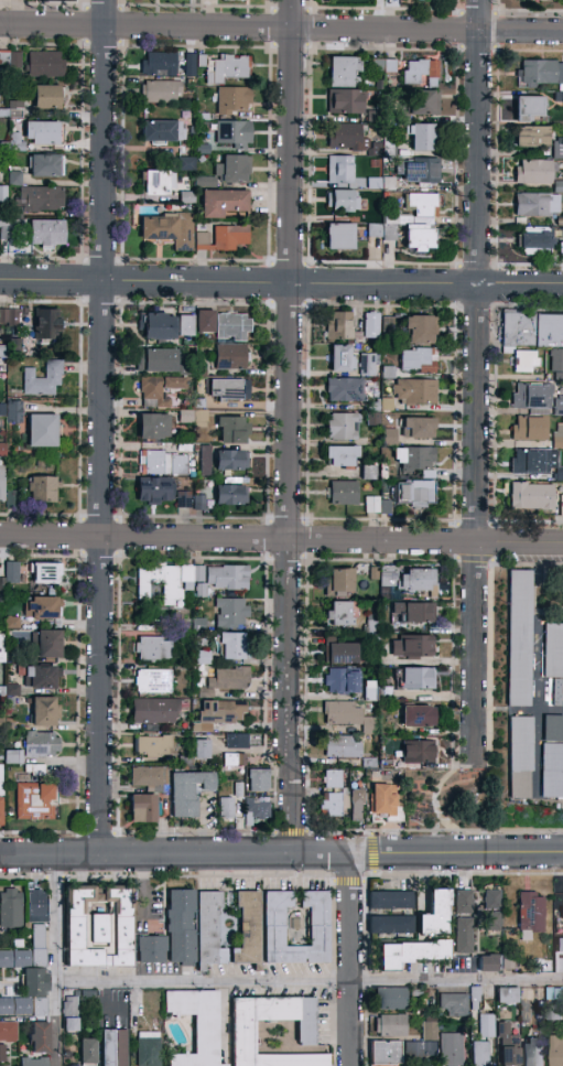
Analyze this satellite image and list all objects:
road: (281, 28)
building: (13, 61)
building: (188, 63)
building: (45, 64)
building: (161, 64)
building: (383, 66)
building: (228, 68)
building: (345, 72)
building: (420, 72)
building: (540, 73)
building: (159, 91)
building: (47, 97)
building: (234, 100)
building: (346, 101)
building: (425, 103)
building: (506, 108)
building: (529, 109)
building: (162, 131)
building: (42, 132)
building: (234, 133)
building: (532, 137)
building: (348, 138)
building: (421, 138)
building: (557, 148)
building: (186, 163)
building: (46, 165)
building: (232, 169)
building: (340, 170)
building: (418, 170)
building: (534, 172)
building: (159, 183)
building: (41, 200)
building: (343, 201)
building: (224, 203)
building: (423, 204)
building: (538, 204)
building: (169, 229)
building: (372, 229)
building: (46, 233)
building: (340, 237)
building: (420, 237)
building: (225, 239)
building: (537, 243)
road: (281, 282)
building: (9, 317)
building: (206, 322)
building: (386, 323)
building: (47, 324)
building: (160, 325)
building: (185, 325)
building: (338, 325)
building: (371, 325)
building: (232, 327)
building: (419, 330)
building: (532, 330)
building: (229, 357)
building: (343, 358)
building: (158, 360)
building: (419, 360)
building: (557, 360)
building: (368, 362)
building: (526, 362)
road: (476, 378)
building: (43, 379)
building: (158, 388)
building: (228, 390)
building: (345, 390)
building: (411, 392)
building: (531, 397)
building: (557, 406)
building: (14, 411)
road: (100, 427)
building: (154, 427)
building: (343, 427)
road: (286, 428)
building: (419, 428)
building: (529, 428)
building: (44, 430)
building: (231, 430)
building: (557, 433)
building: (389, 437)
building: (1, 449)
building: (342, 456)
building: (414, 459)
building: (206, 460)
building: (230, 461)
building: (534, 462)
building: (163, 463)
building: (367, 471)
building: (2, 482)
building: (42, 489)
building: (154, 492)
building: (344, 493)
building: (414, 494)
building: (231, 495)
building: (531, 497)
building: (197, 499)
building: (184, 502)
building: (378, 505)
road: (281, 539)
road: (475, 559)
building: (15, 572)
building: (46, 573)
building: (185, 575)
building: (227, 578)
building: (407, 579)
building: (198, 580)
building: (160, 582)
building: (340, 582)
building: (561, 591)
building: (42, 607)
building: (230, 613)
building: (414, 613)
building: (342, 614)
building: (10, 621)
road: (489, 628)
building: (519, 638)
road: (305, 640)
building: (48, 644)
building: (230, 646)
building: (412, 646)
building: (2, 648)
building: (152, 649)
building: (342, 653)
building: (553, 661)
building: (42, 677)
building: (230, 678)
building: (414, 678)
building: (152, 681)
building: (343, 681)
building: (8, 689)
building: (154, 711)
building: (45, 712)
building: (223, 712)
building: (343, 713)
building: (418, 717)
building: (237, 742)
building: (42, 745)
building: (153, 746)
building: (343, 746)
building: (202, 750)
building: (418, 752)
building: (552, 756)
building: (12, 757)
building: (520, 757)
building: (235, 760)
building: (1, 774)
building: (148, 777)
building: (259, 779)
building: (332, 779)
road: (464, 782)
building: (237, 788)
building: (188, 792)
building: (343, 797)
park: (446, 799)
building: (382, 800)
building: (36, 801)
road: (434, 801)
building: (329, 805)
building: (356, 805)
building: (142, 808)
building: (226, 808)
building: (0, 811)
building: (258, 812)
road: (292, 832)
road: (372, 853)
road: (281, 855)
road: (369, 875)
road: (348, 882)
building: (390, 901)
building: (11, 908)
building: (491, 911)
building: (562, 912)
building: (560, 913)
building: (435, 914)
building: (530, 915)
building: (463, 922)
building: (391, 925)
building: (181, 926)
building: (98, 927)
building: (318, 928)
building: (248, 929)
building: (208, 932)
building: (151, 950)
building: (410, 954)
road: (350, 959)
road: (55, 960)
building: (30, 962)
building: (489, 962)
road: (308, 980)
building: (475, 994)
building: (507, 995)
building: (390, 999)
building: (454, 1005)
building: (555, 1013)
building: (69, 1014)
building: (196, 1025)
building: (390, 1025)
building: (486, 1025)
building: (8, 1032)
building: (242, 1033)
building: (40, 1037)
building: (424, 1043)
building: (508, 1046)
building: (113, 1047)
building: (148, 1049)
building: (451, 1049)
building: (557, 1051)
building: (87, 1052)
building: (531, 1052)
building: (2, 1053)
building: (386, 1054)
building: (480, 1054)
building: (34, 1063)
building: (1, 1065)

